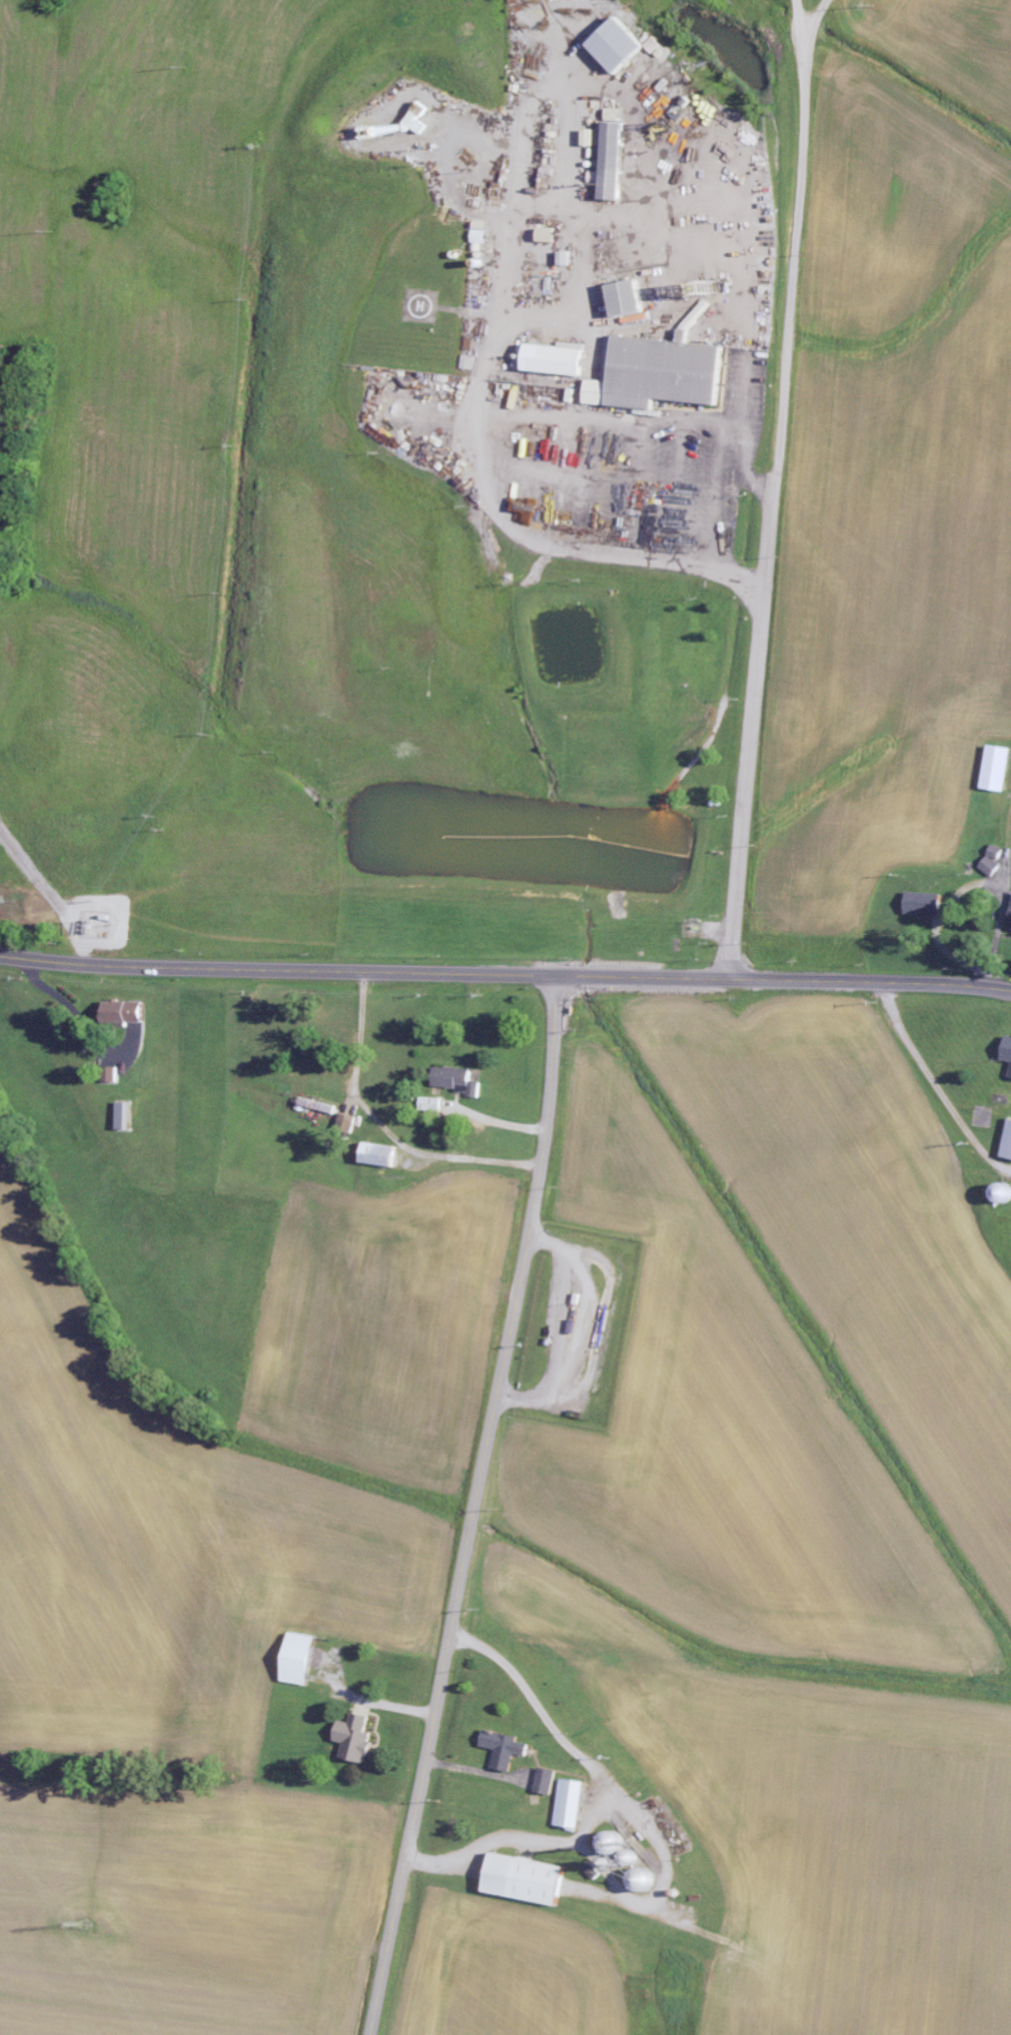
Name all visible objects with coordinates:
building: (627, 44)
building: (419, 122)
building: (592, 137)
building: (615, 162)
building: (551, 235)
building: (567, 258)
building: (631, 298)
building: (562, 360)
building: (665, 374)
road: (778, 490)
building: (1000, 769)
building: (930, 904)
road: (505, 975)
building: (133, 1012)
building: (1010, 1058)
building: (461, 1080)
building: (319, 1107)
building: (348, 1123)
building: (385, 1155)
building: (1010, 1158)
road: (477, 1506)
building: (306, 1659)
building: (359, 1738)
building: (511, 1748)
building: (577, 1803)
building: (533, 1879)

